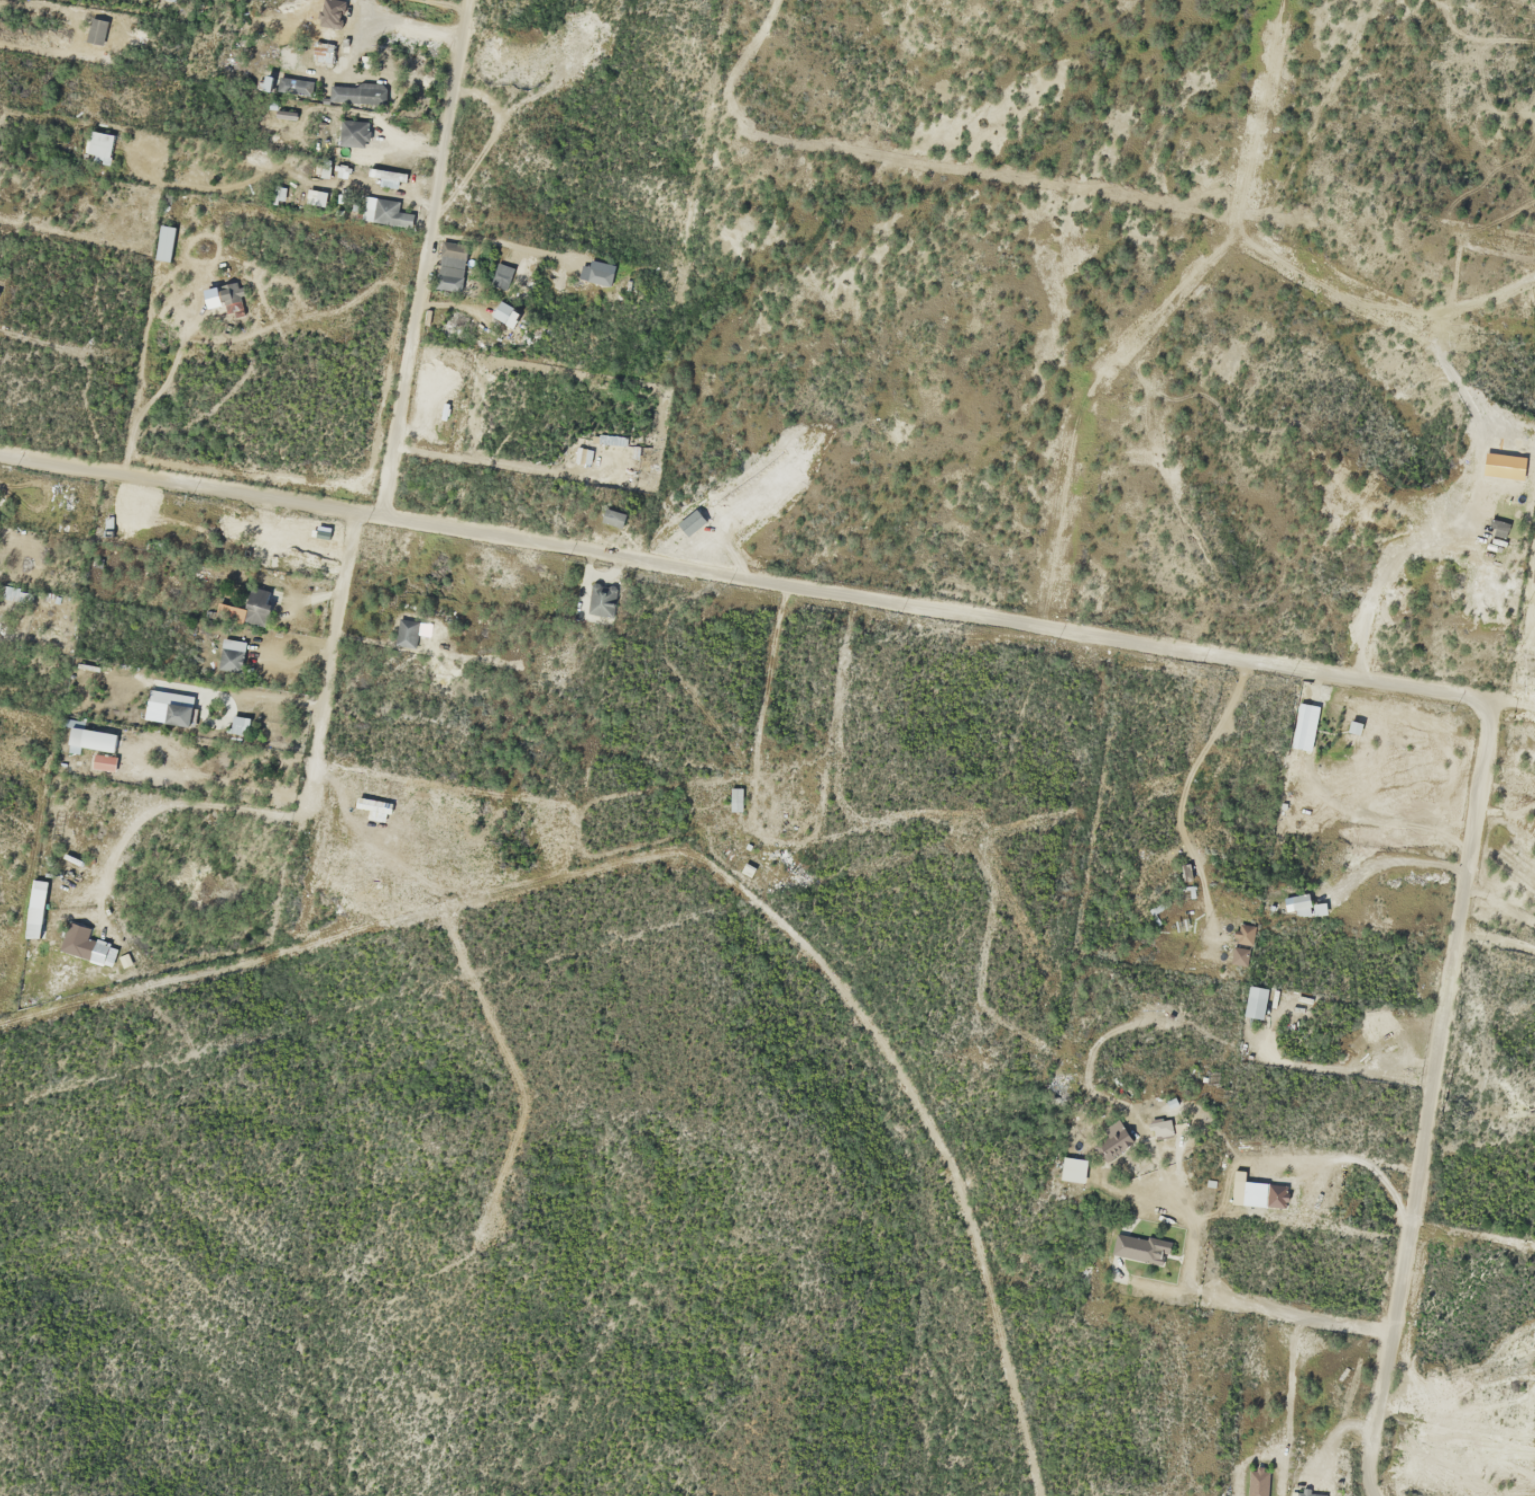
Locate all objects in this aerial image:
building: (96, 31)
building: (269, 77)
building: (355, 93)
building: (100, 147)
building: (387, 178)
building: (308, 197)
building: (382, 212)
building: (165, 243)
road: (420, 257)
building: (450, 267)
building: (599, 272)
building: (498, 279)
building: (232, 297)
building: (506, 313)
building: (613, 517)
building: (601, 600)
building: (247, 609)
building: (406, 632)
road: (1143, 644)
building: (230, 654)
road: (332, 654)
building: (239, 724)
building: (1303, 726)
building: (91, 740)
building: (104, 762)
building: (735, 799)
building: (35, 923)
building: (1162, 1127)
building: (1113, 1140)
road: (1150, 1172)

